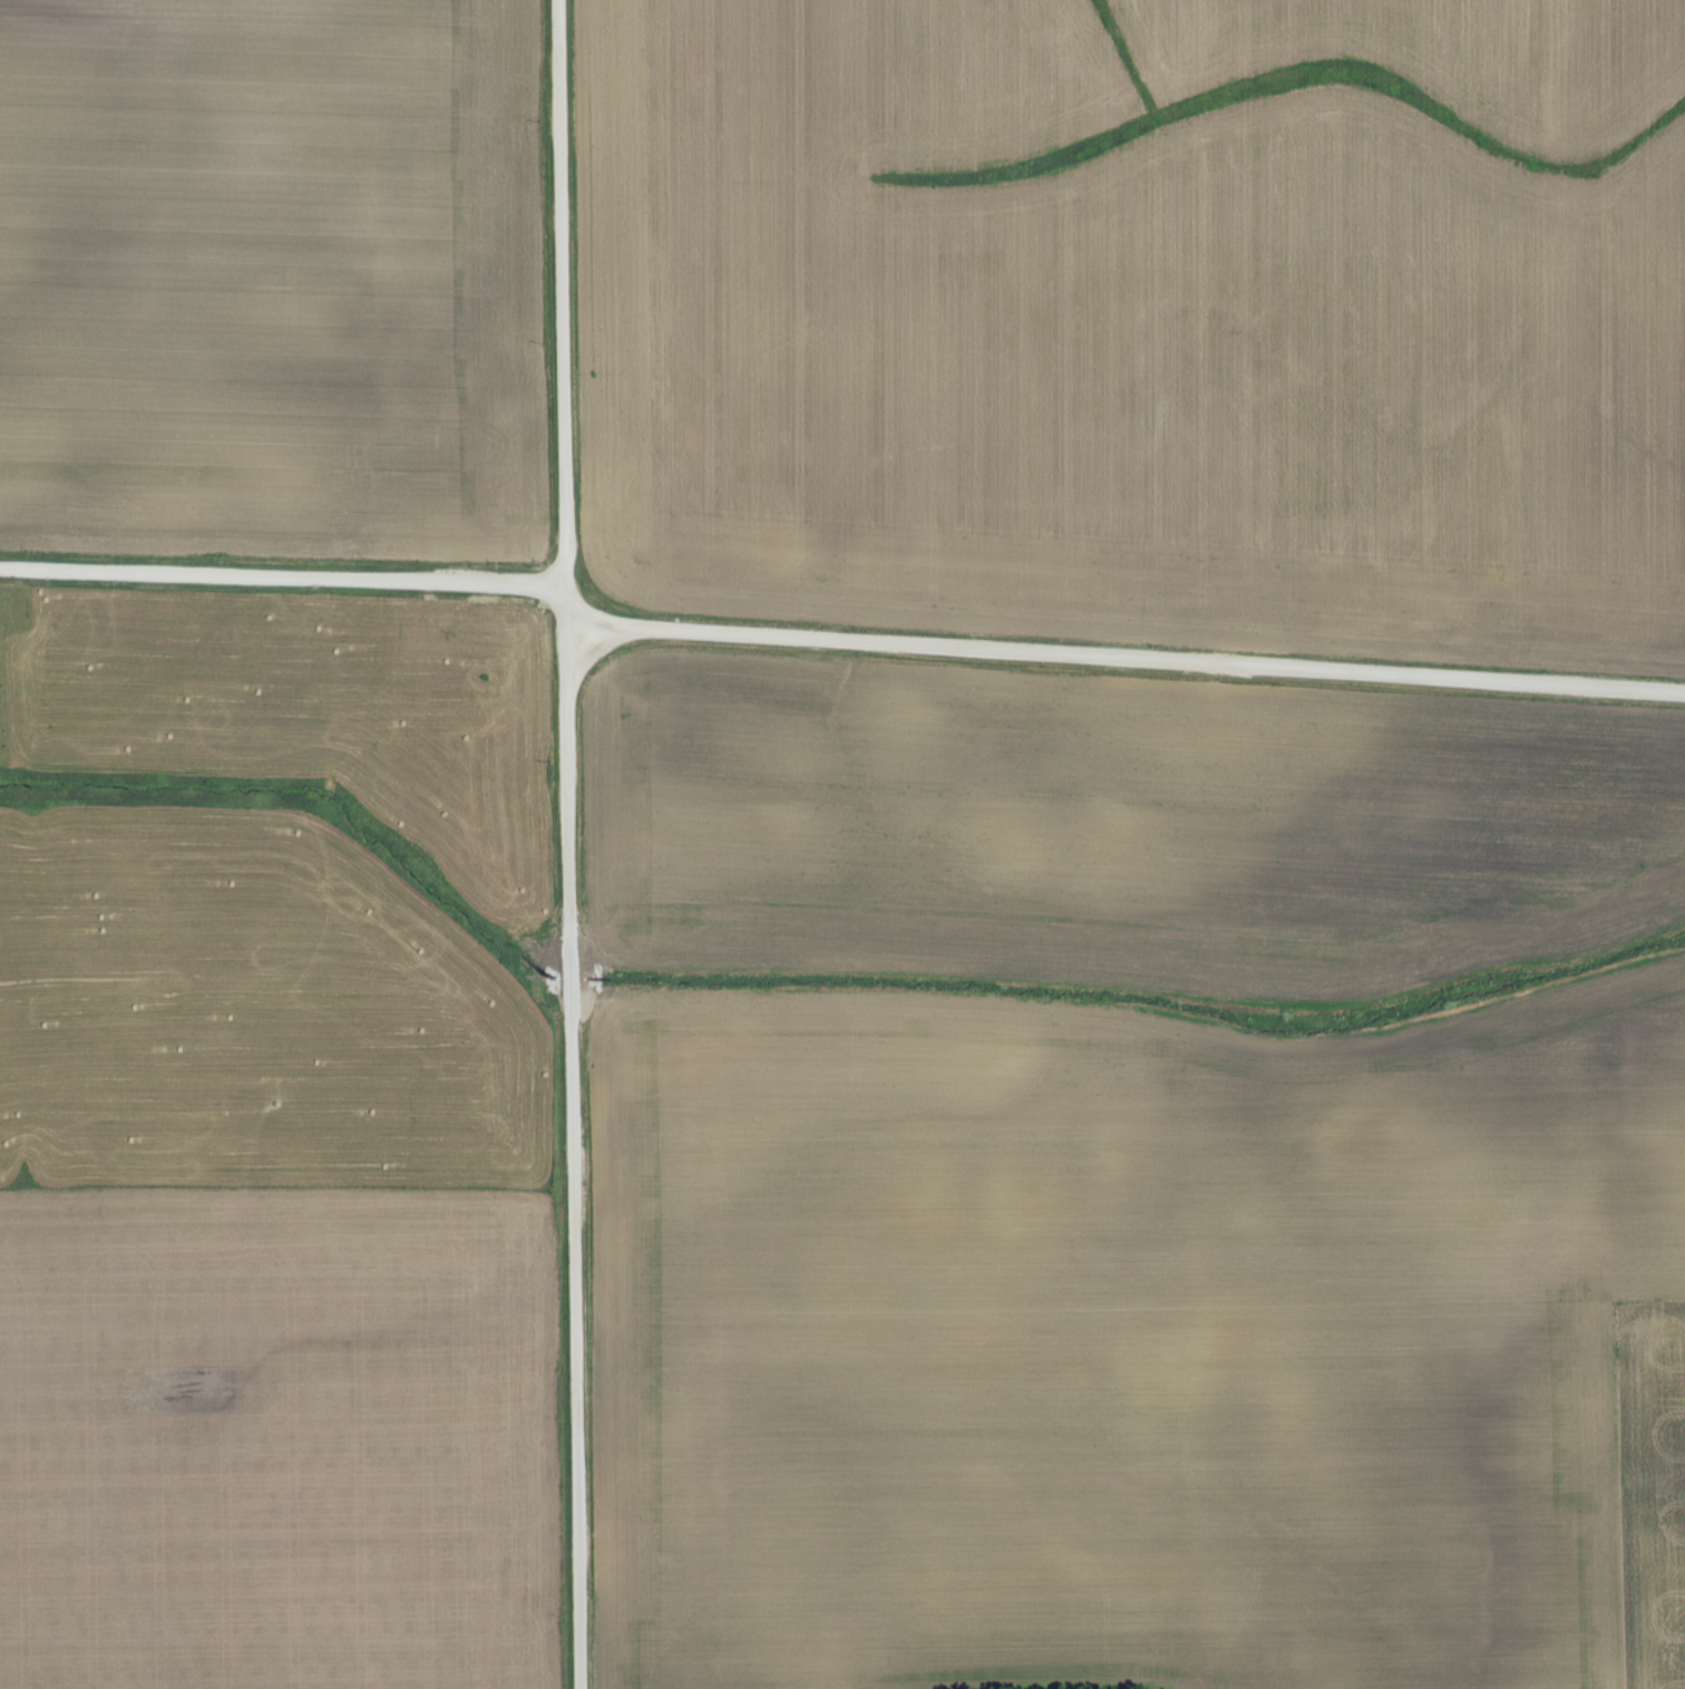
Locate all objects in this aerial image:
road: (562, 302)
road: (286, 576)
road: (1123, 658)
road: (576, 1146)

